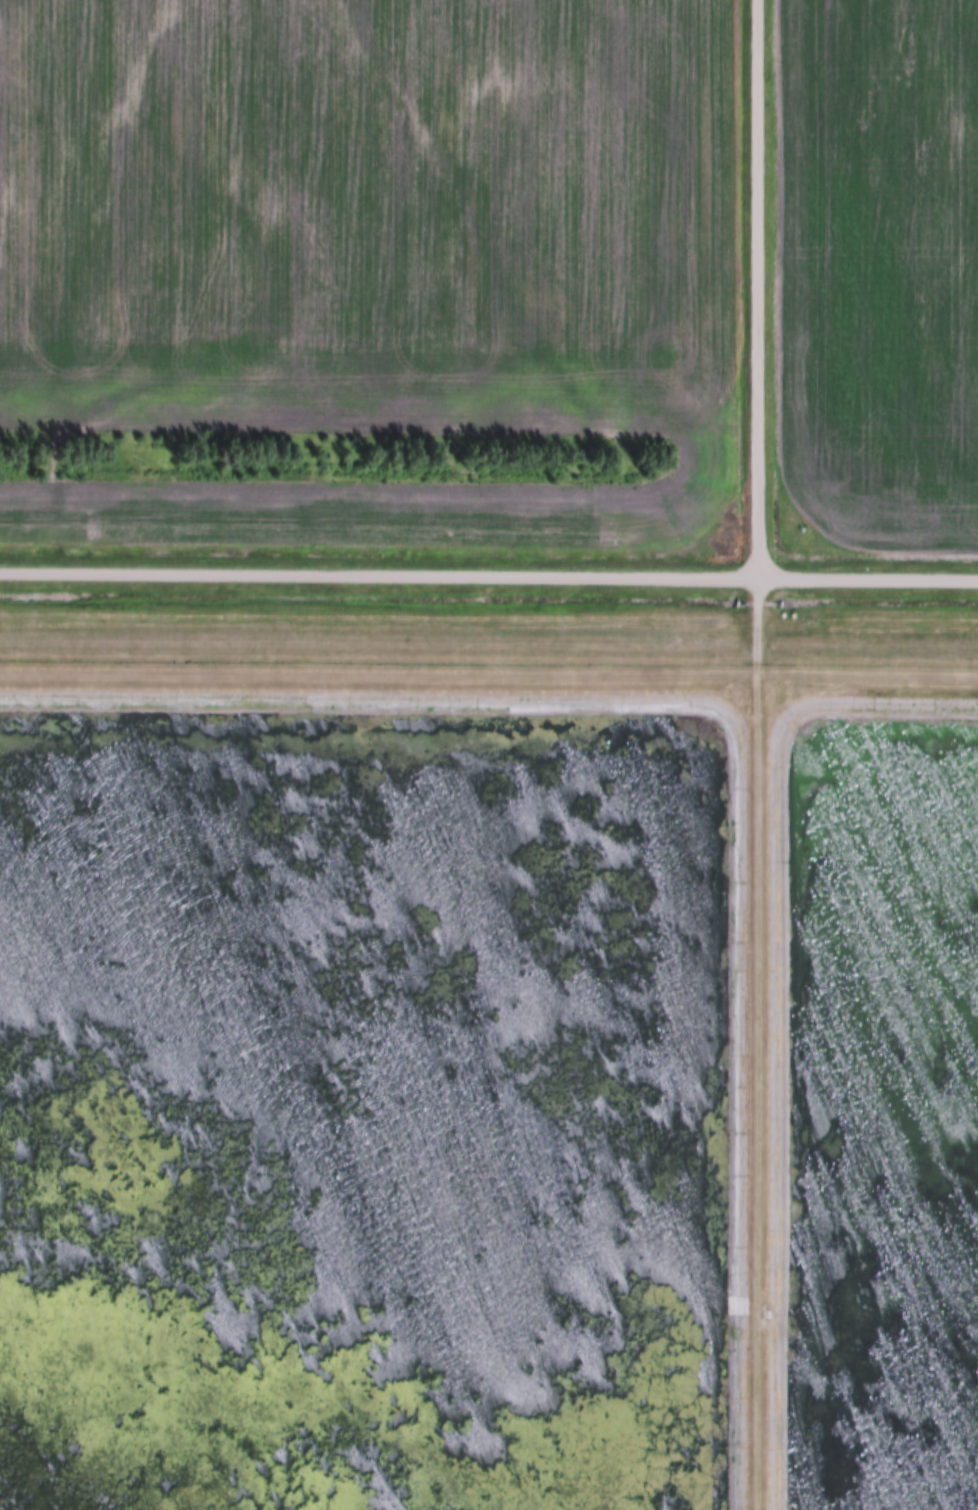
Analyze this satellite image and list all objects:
crop: (368, 258)
crop: (880, 271)
road: (756, 289)
road: (489, 577)
road: (757, 1044)
wastewater plant: (488, 1087)

